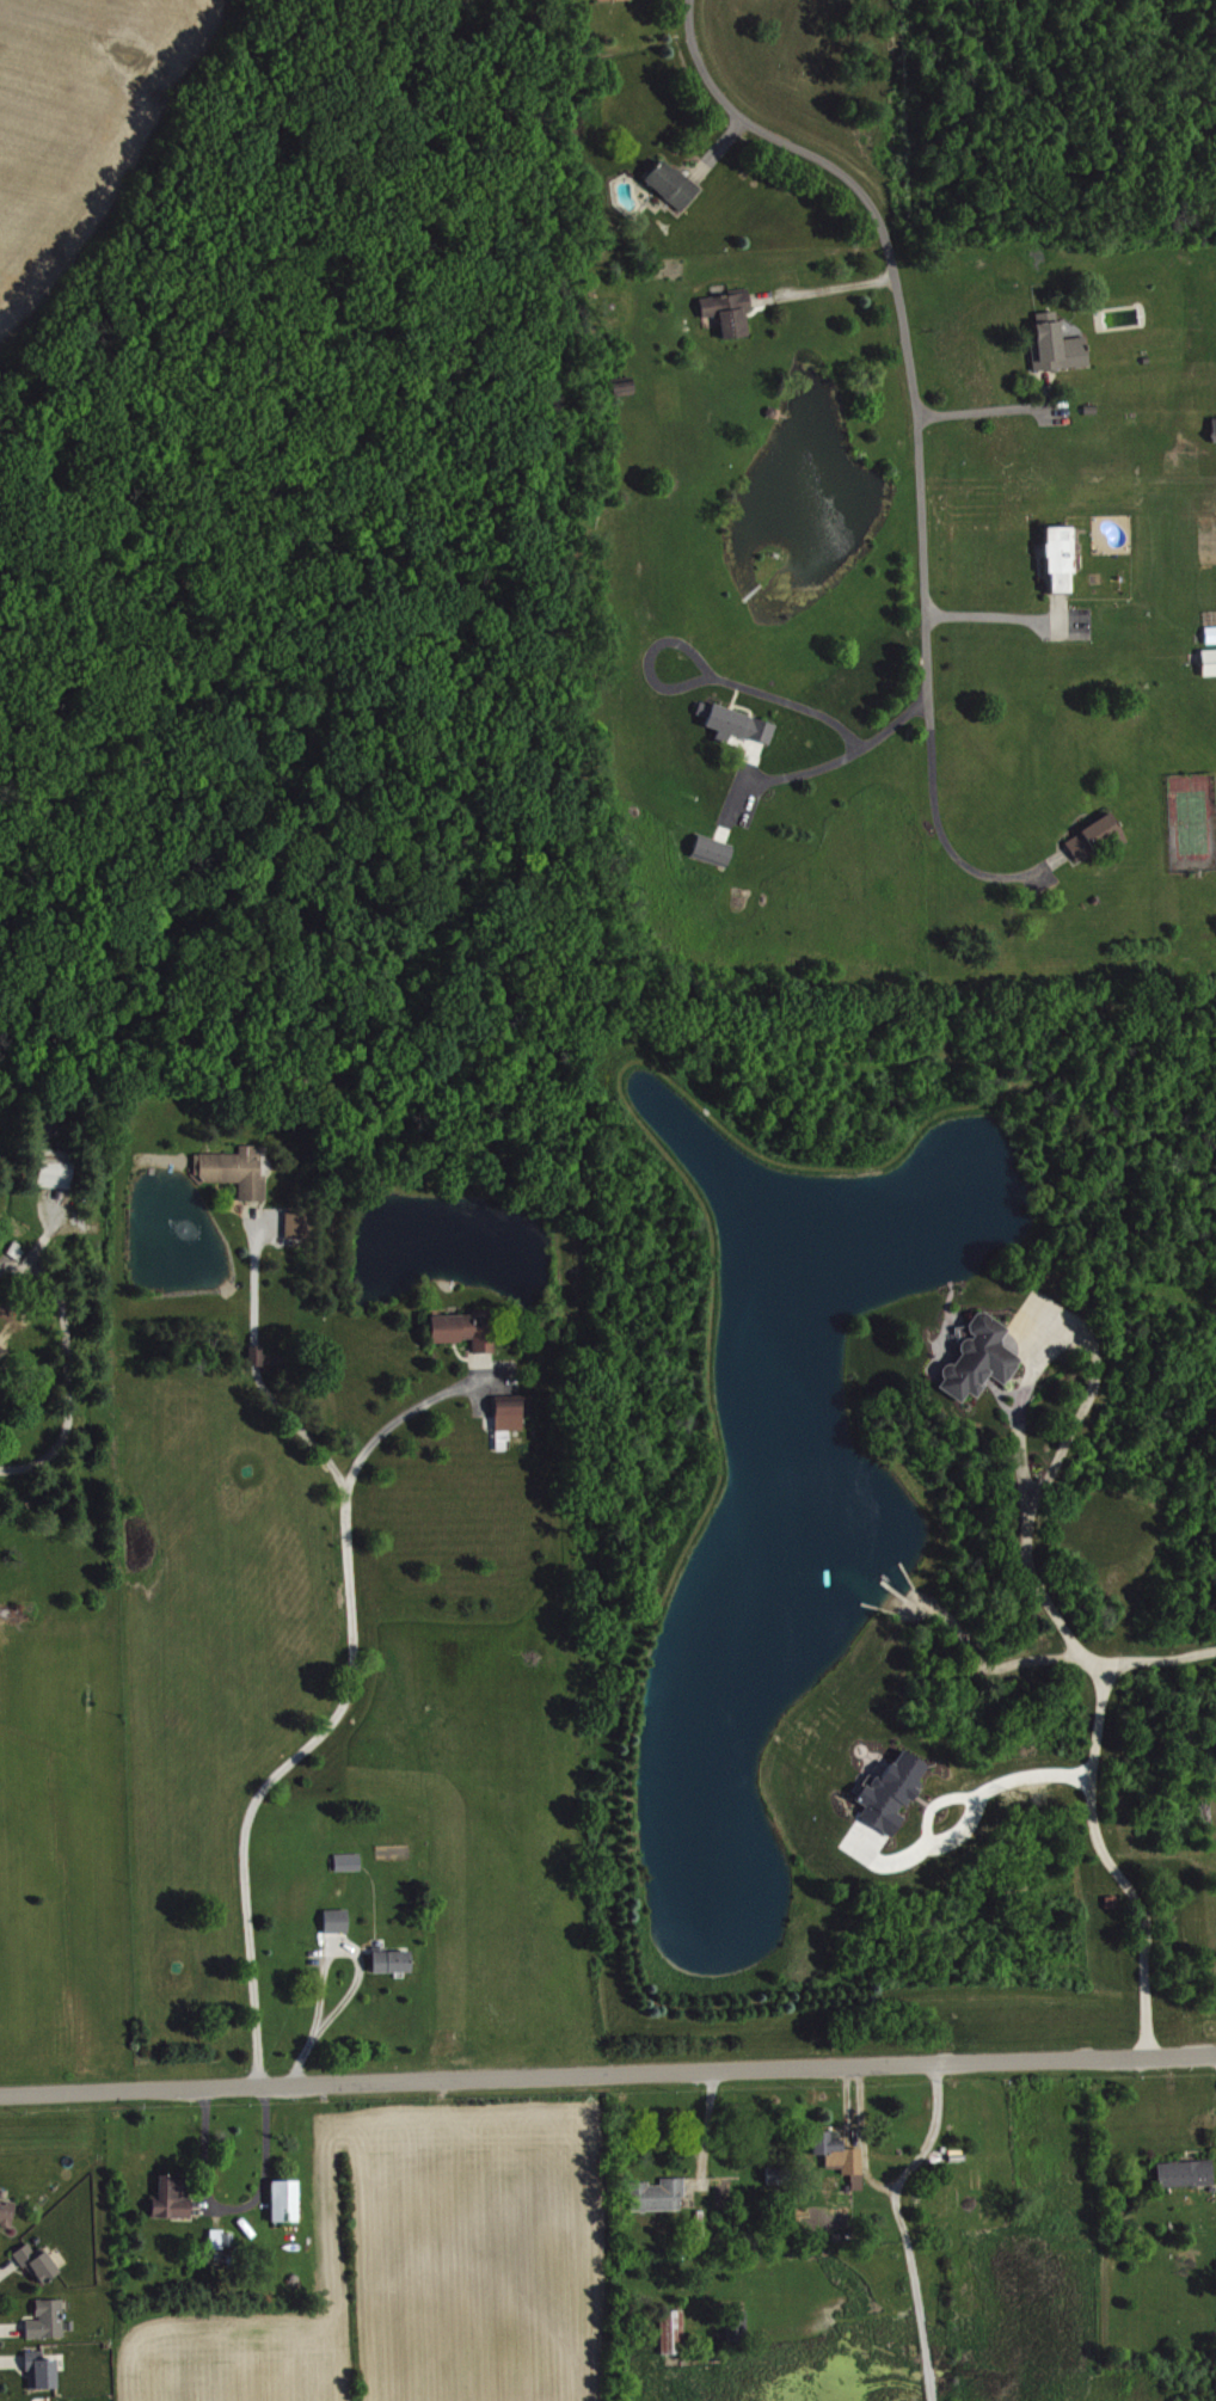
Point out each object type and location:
building: (674, 184)
road: (822, 283)
road: (901, 309)
building: (731, 312)
building: (1058, 345)
road: (982, 403)
building: (1215, 428)
building: (1061, 559)
road: (993, 610)
building: (1210, 662)
road: (797, 702)
building: (738, 724)
road: (843, 749)
building: (1097, 836)
road: (945, 841)
building: (713, 851)
building: (57, 1167)
building: (237, 1171)
building: (299, 1224)
building: (465, 1331)
building: (258, 1356)
building: (981, 1358)
road: (70, 1381)
building: (512, 1412)
road: (306, 1433)
road: (1052, 1604)
road: (1161, 1659)
road: (336, 1708)
building: (893, 1792)
road: (974, 1811)
building: (350, 1861)
building: (338, 1921)
building: (394, 1960)
road: (607, 2074)
road: (938, 2131)
building: (843, 2156)
building: (1187, 2173)
building: (658, 2194)
building: (174, 2198)
building: (287, 2200)
building: (7, 2212)
road: (905, 2224)
building: (223, 2239)
building: (39, 2262)
building: (49, 2320)
building: (739, 2325)
building: (674, 2332)
building: (44, 2370)

